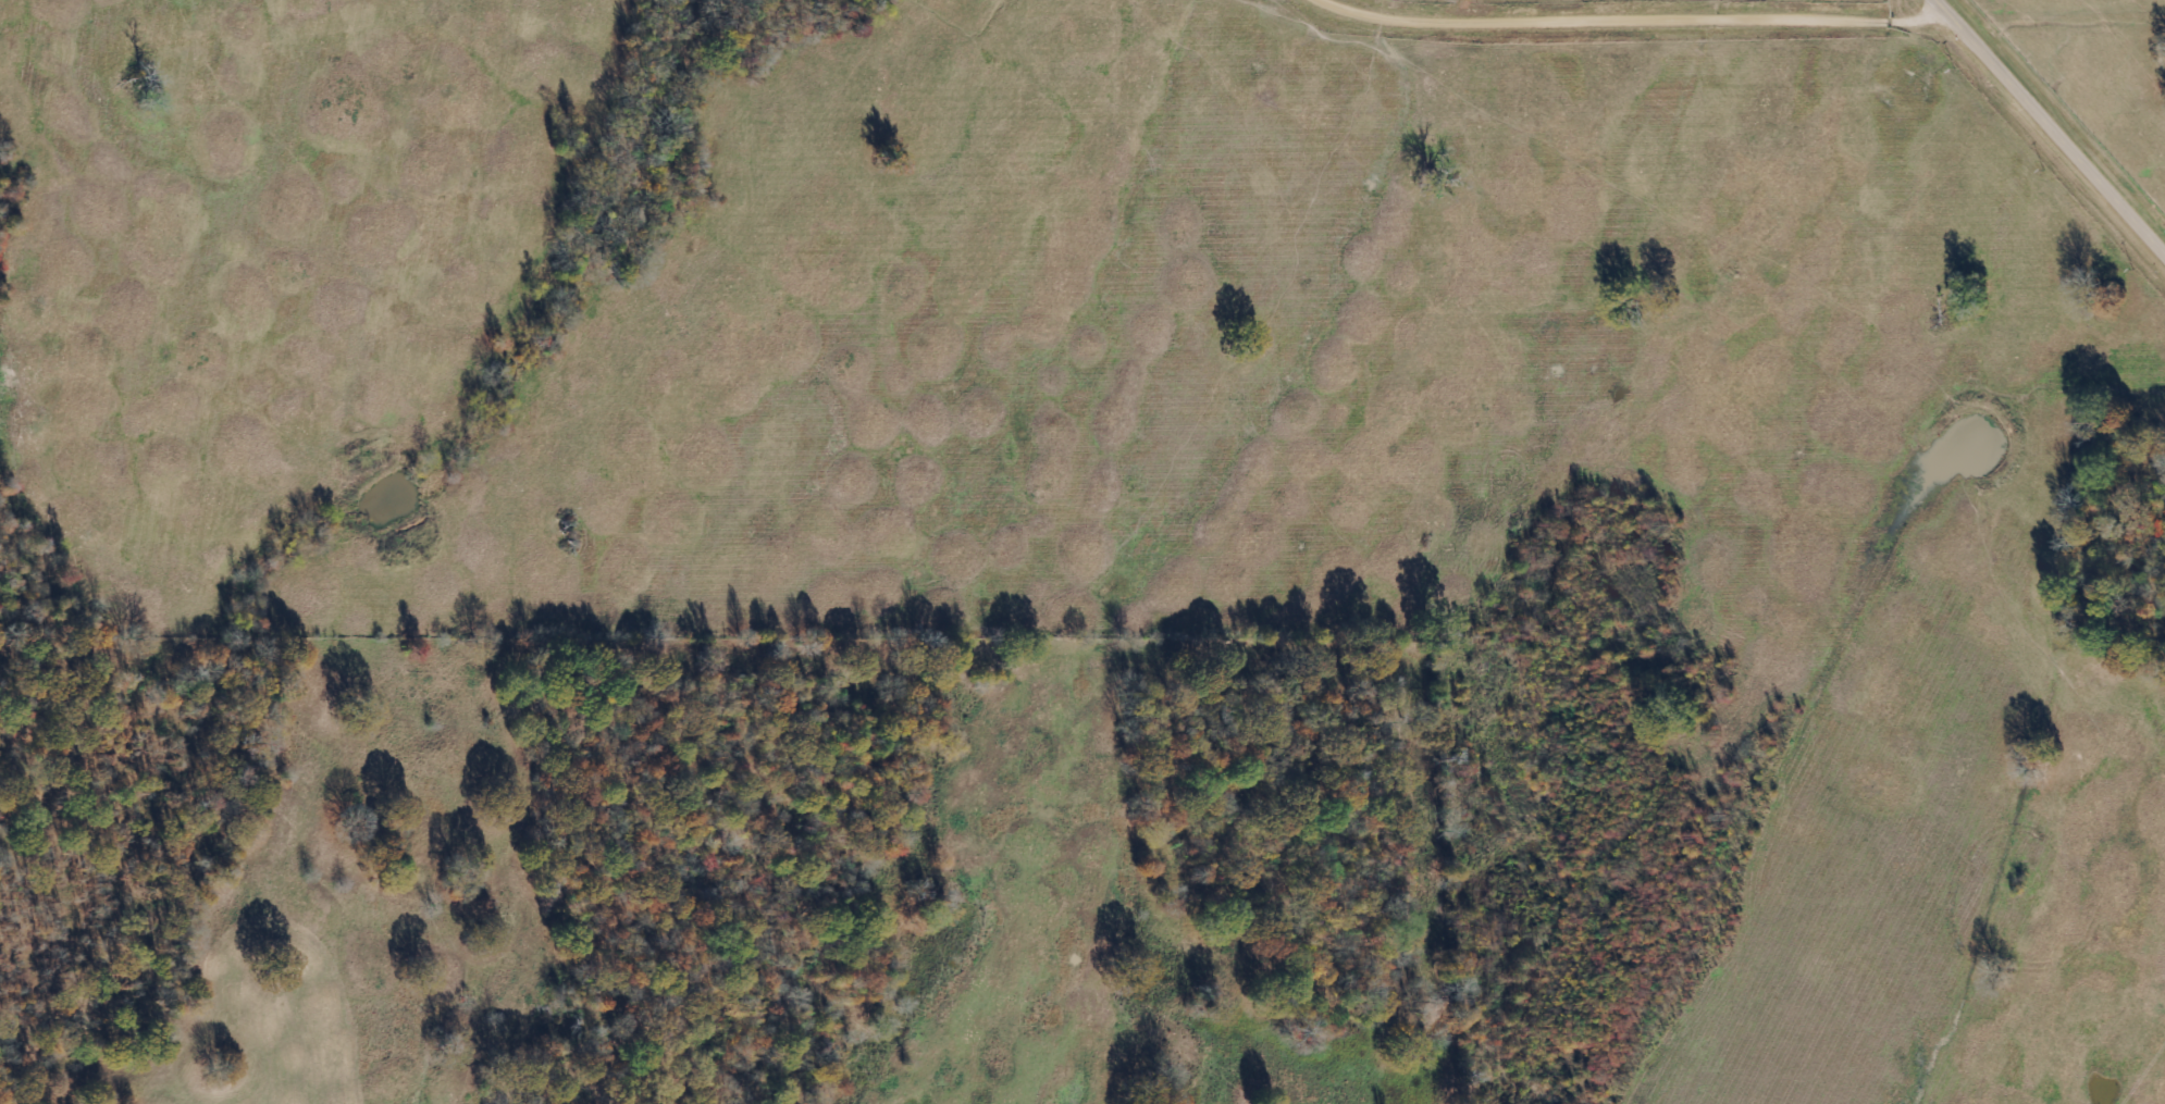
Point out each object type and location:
road: (1768, 11)
road: (1744, 22)
road: (2051, 124)
park: (2129, 547)

